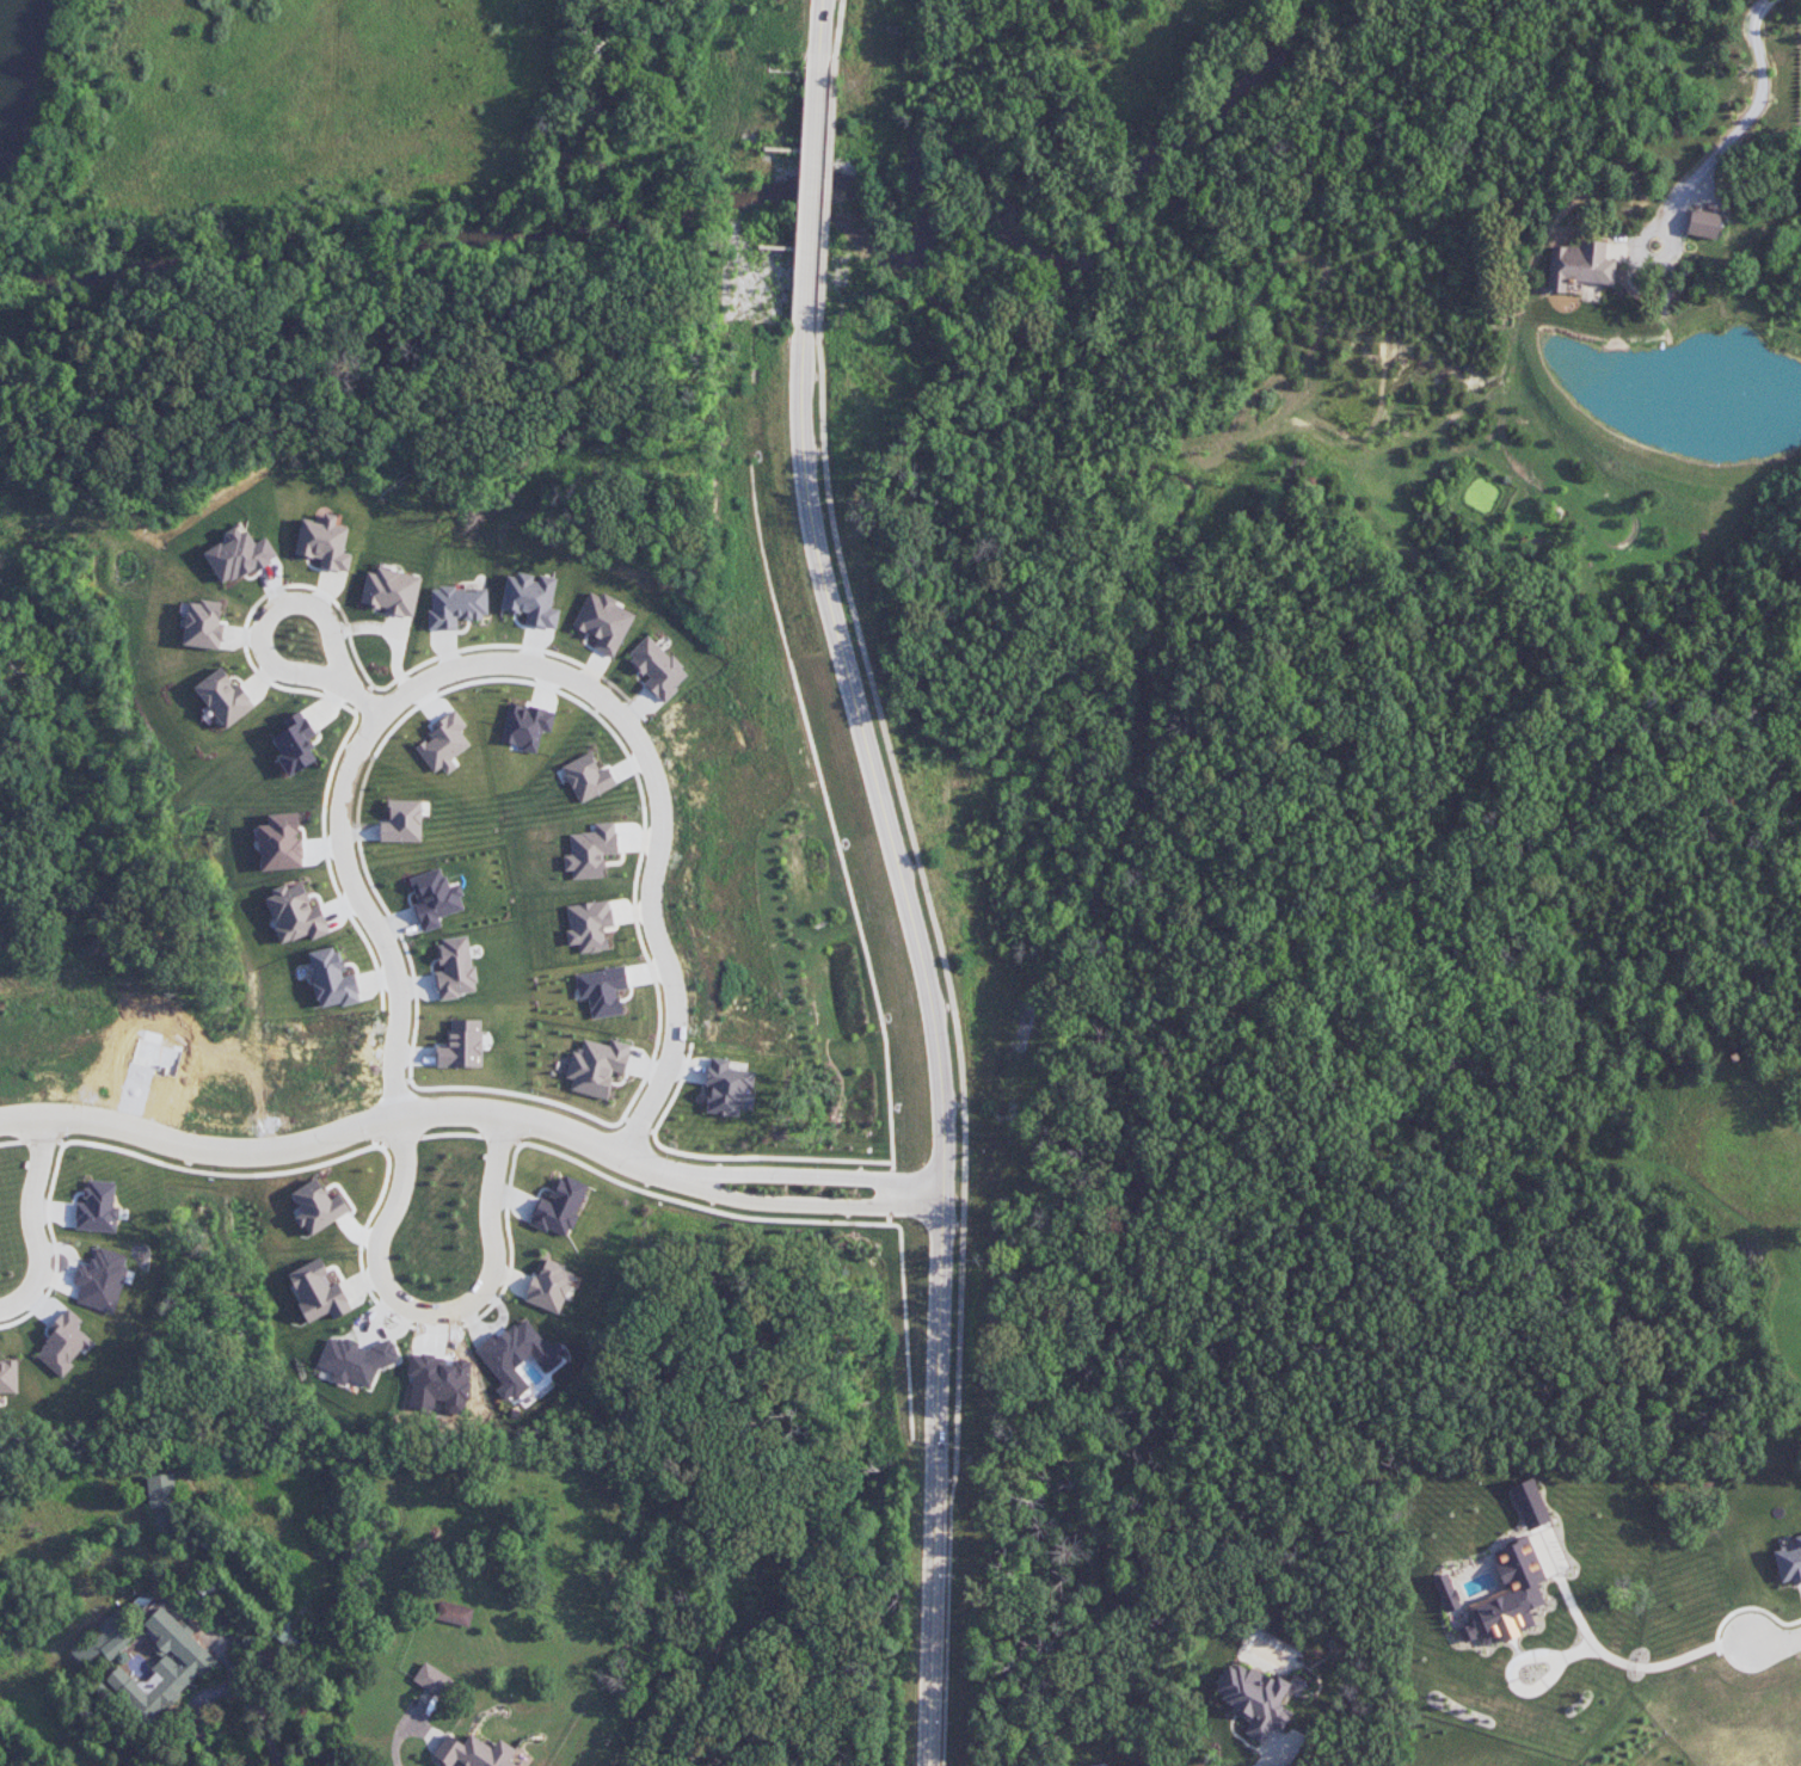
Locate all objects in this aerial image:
road: (820, 26)
road: (1751, 116)
road: (810, 191)
building: (1703, 223)
building: (1580, 265)
building: (324, 542)
building: (392, 591)
building: (531, 598)
building: (456, 607)
building: (604, 622)
building: (203, 624)
road: (391, 634)
road: (260, 640)
road: (522, 662)
building: (657, 669)
building: (225, 697)
building: (525, 726)
building: (443, 743)
building: (295, 744)
building: (586, 777)
building: (402, 822)
building: (281, 843)
building: (590, 851)
building: (434, 898)
building: (295, 915)
building: (588, 925)
building: (455, 968)
building: (332, 979)
building: (602, 990)
road: (940, 1039)
building: (461, 1045)
building: (596, 1066)
building: (729, 1089)
road: (350, 1125)
road: (695, 1181)
road: (914, 1193)
building: (319, 1206)
building: (560, 1207)
building: (98, 1208)
road: (33, 1220)
building: (100, 1279)
building: (549, 1286)
building: (318, 1292)
road: (436, 1310)
building: (63, 1343)
building: (355, 1359)
building: (8, 1377)
building: (162, 1505)
building: (1789, 1563)
building: (1446, 1593)
building: (1508, 1595)
building: (454, 1613)
building: (285, 1635)
building: (104, 1639)
road: (1791, 1645)
building: (164, 1668)
building: (432, 1680)
road: (225, 1688)
building: (1254, 1699)
building: (474, 1752)
road: (1267, 1753)

